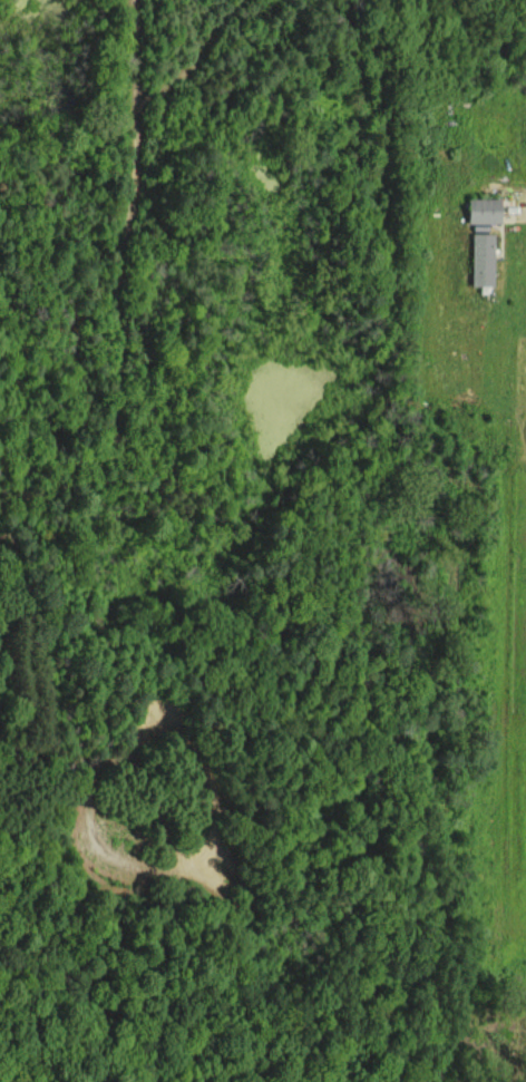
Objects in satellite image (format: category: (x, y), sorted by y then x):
road: (520, 193)
building: (485, 211)
building: (483, 259)

